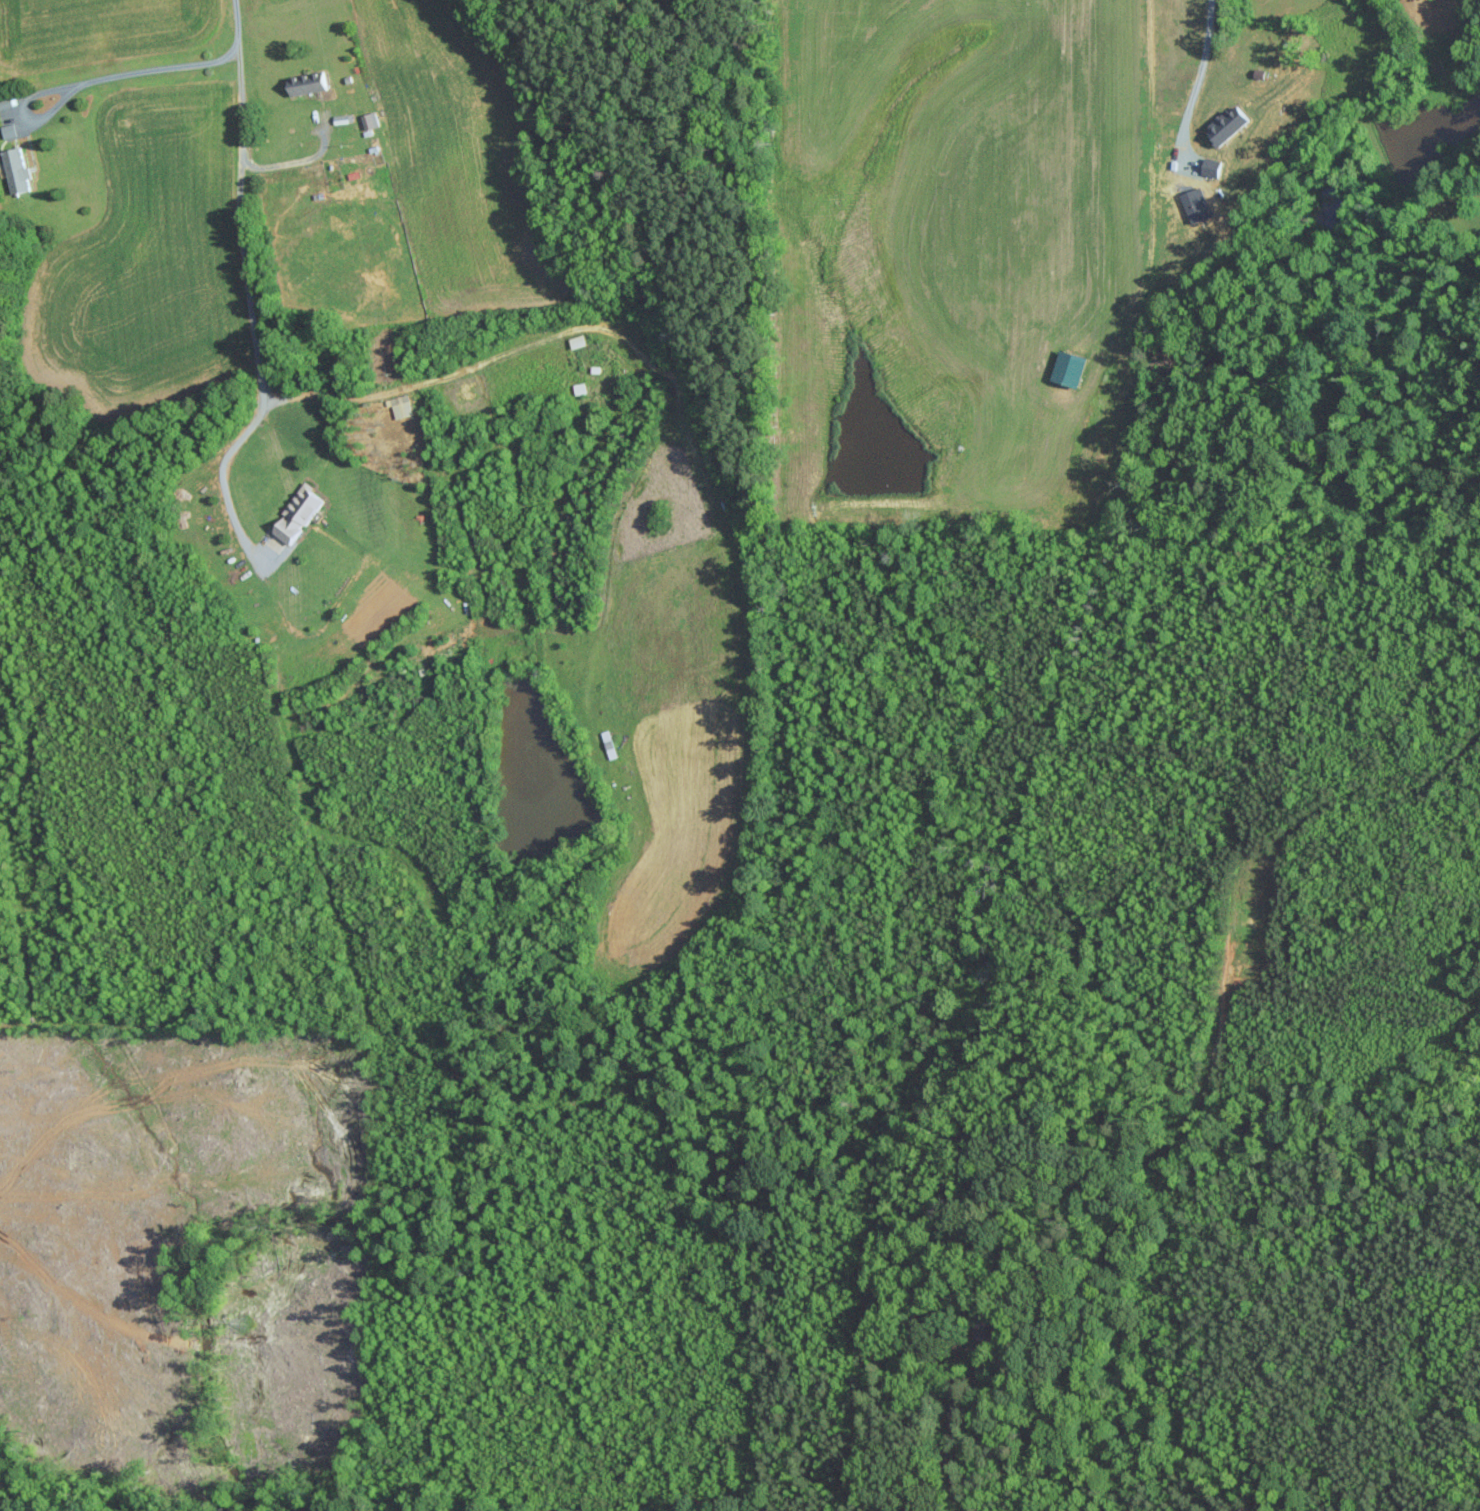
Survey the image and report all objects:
road: (137, 70)
road: (1196, 80)
building: (307, 82)
building: (1228, 125)
road: (1151, 148)
road: (297, 162)
building: (16, 170)
road: (247, 291)
road: (483, 365)
building: (1070, 368)
building: (298, 513)
road: (944, 1425)

